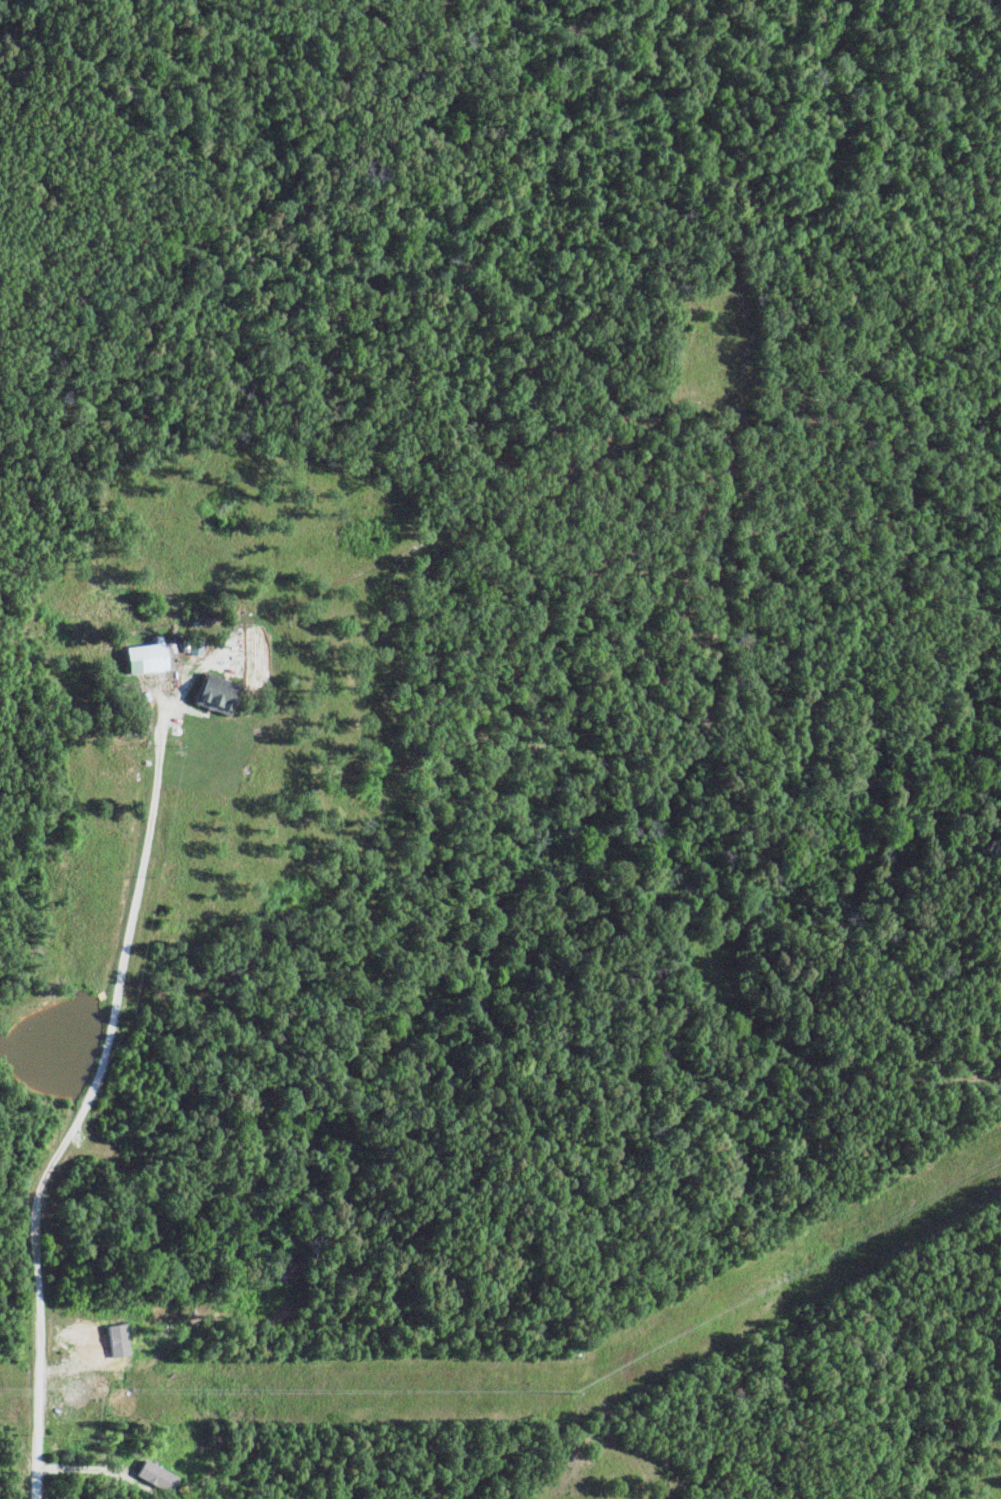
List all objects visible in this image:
road: (540, 191)
road: (500, 382)
building: (148, 659)
building: (218, 694)
road: (82, 1109)

